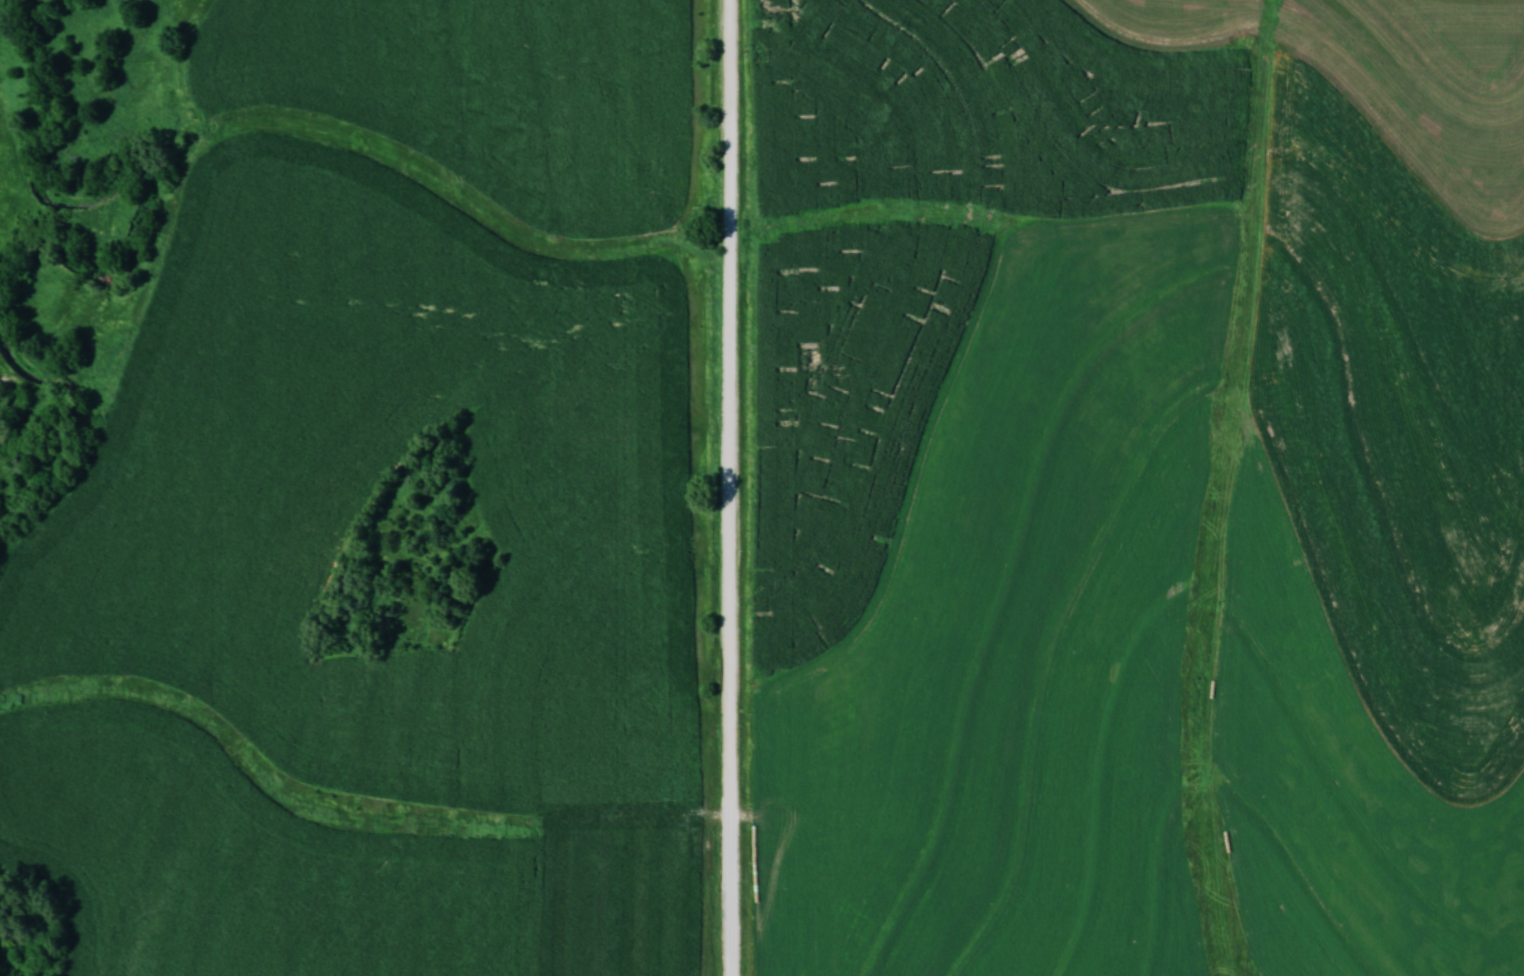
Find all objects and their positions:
road: (732, 488)

